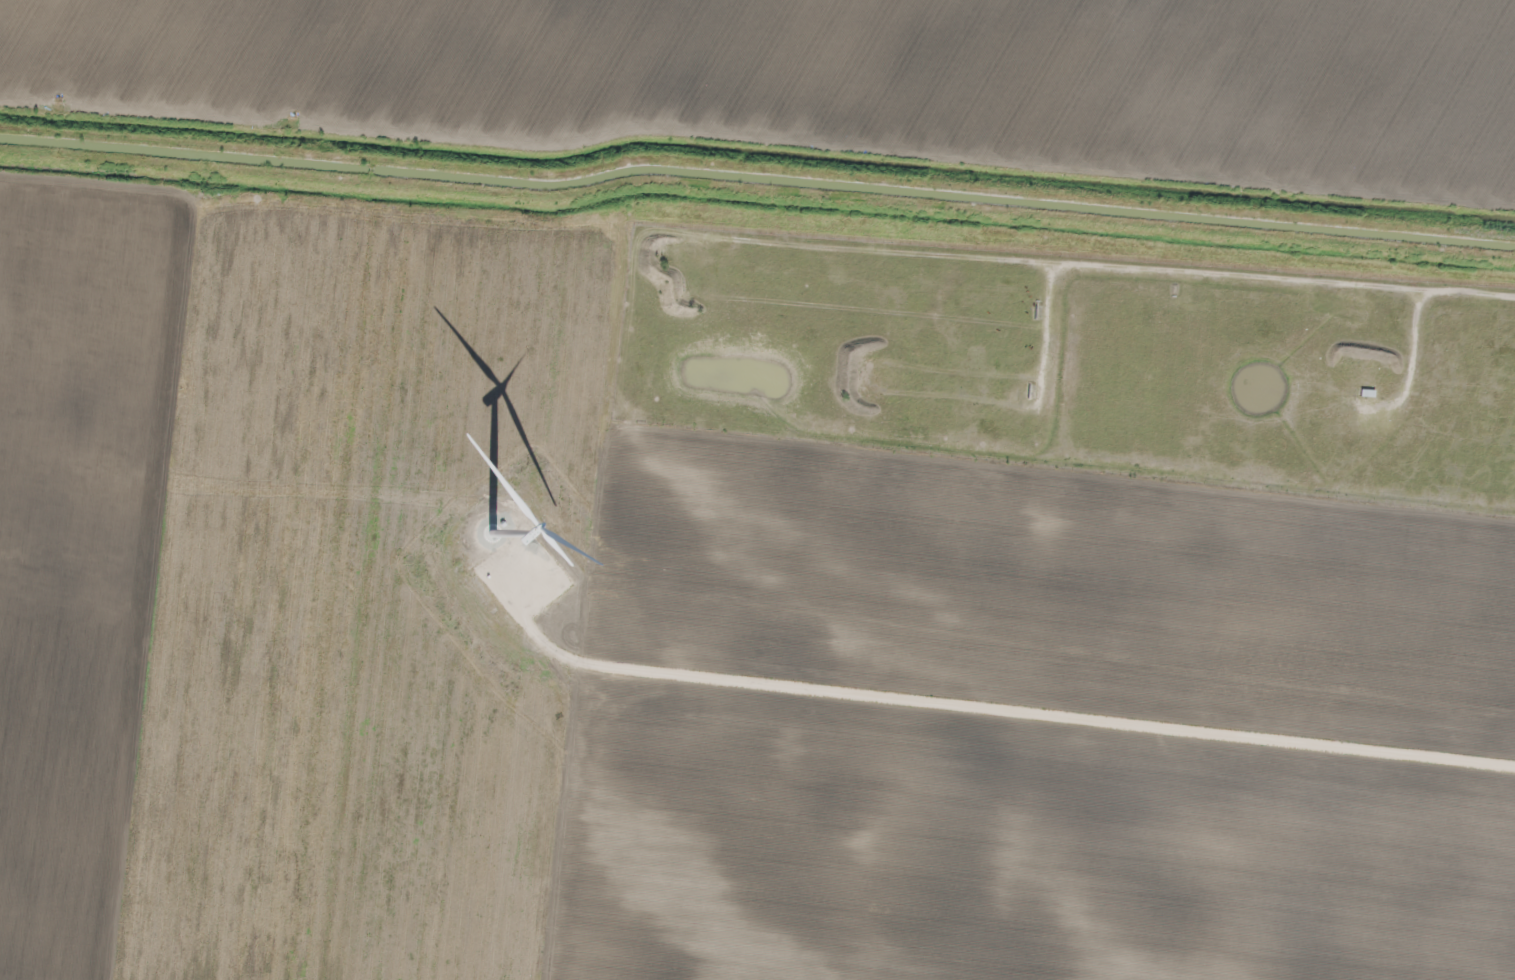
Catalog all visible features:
wind turbine: (492, 529)

